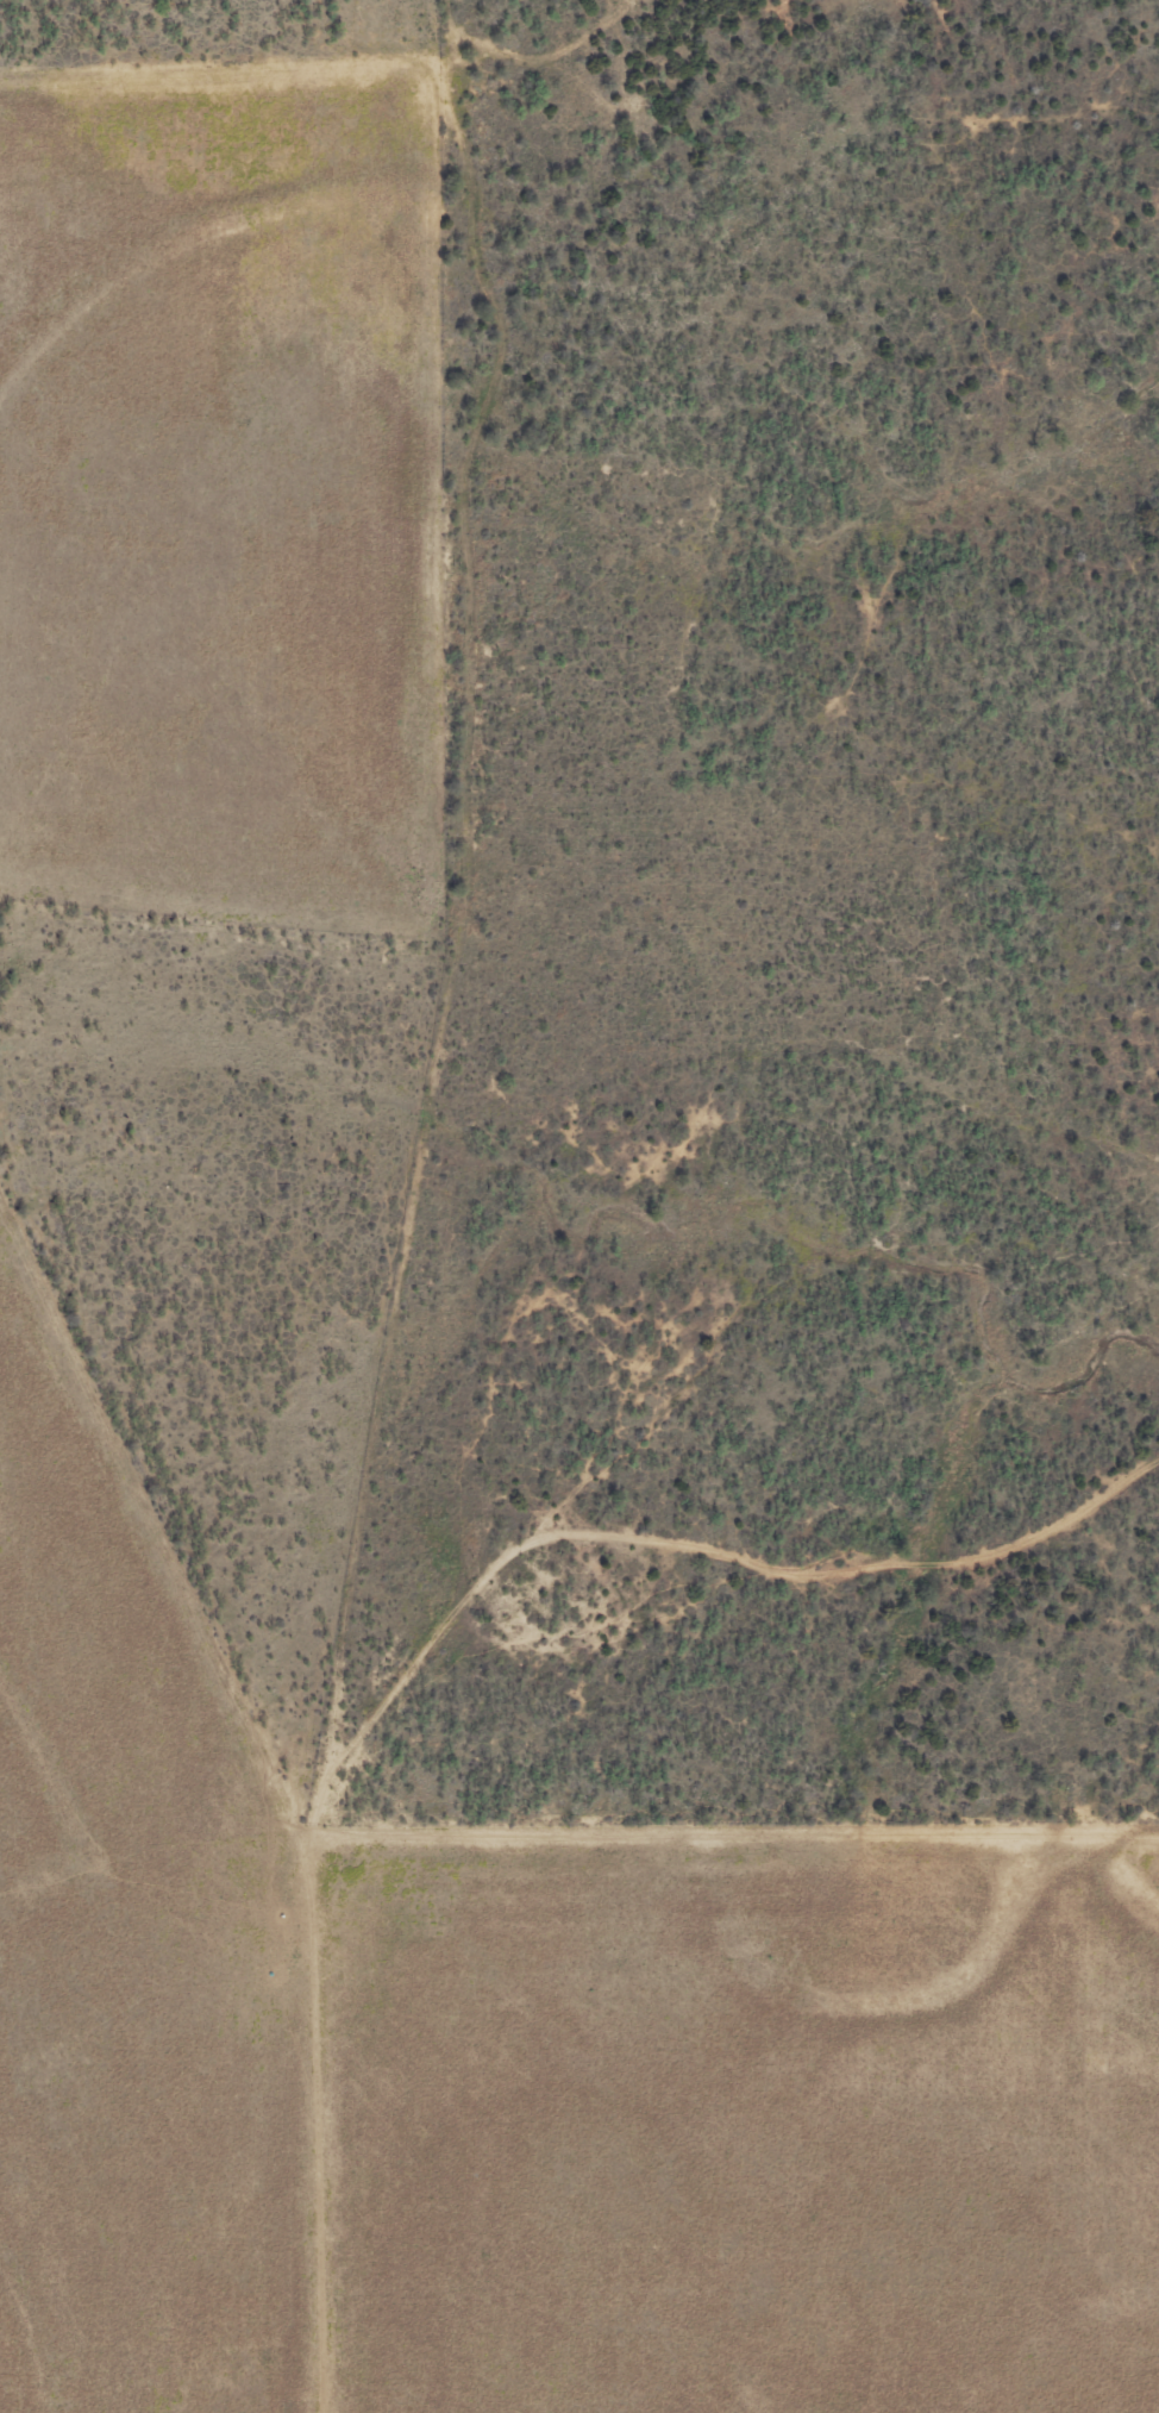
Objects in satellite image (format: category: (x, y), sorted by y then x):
road: (402, 1619)

